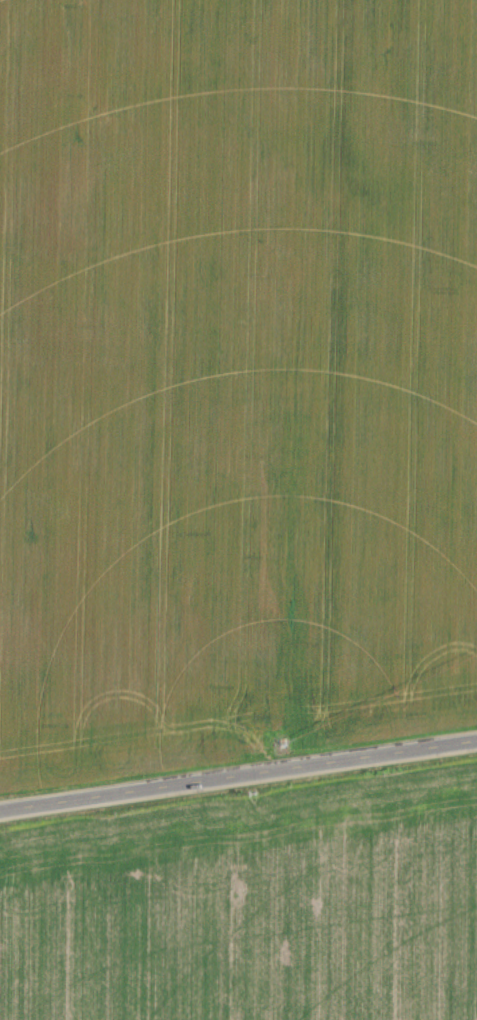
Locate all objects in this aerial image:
road: (238, 774)

